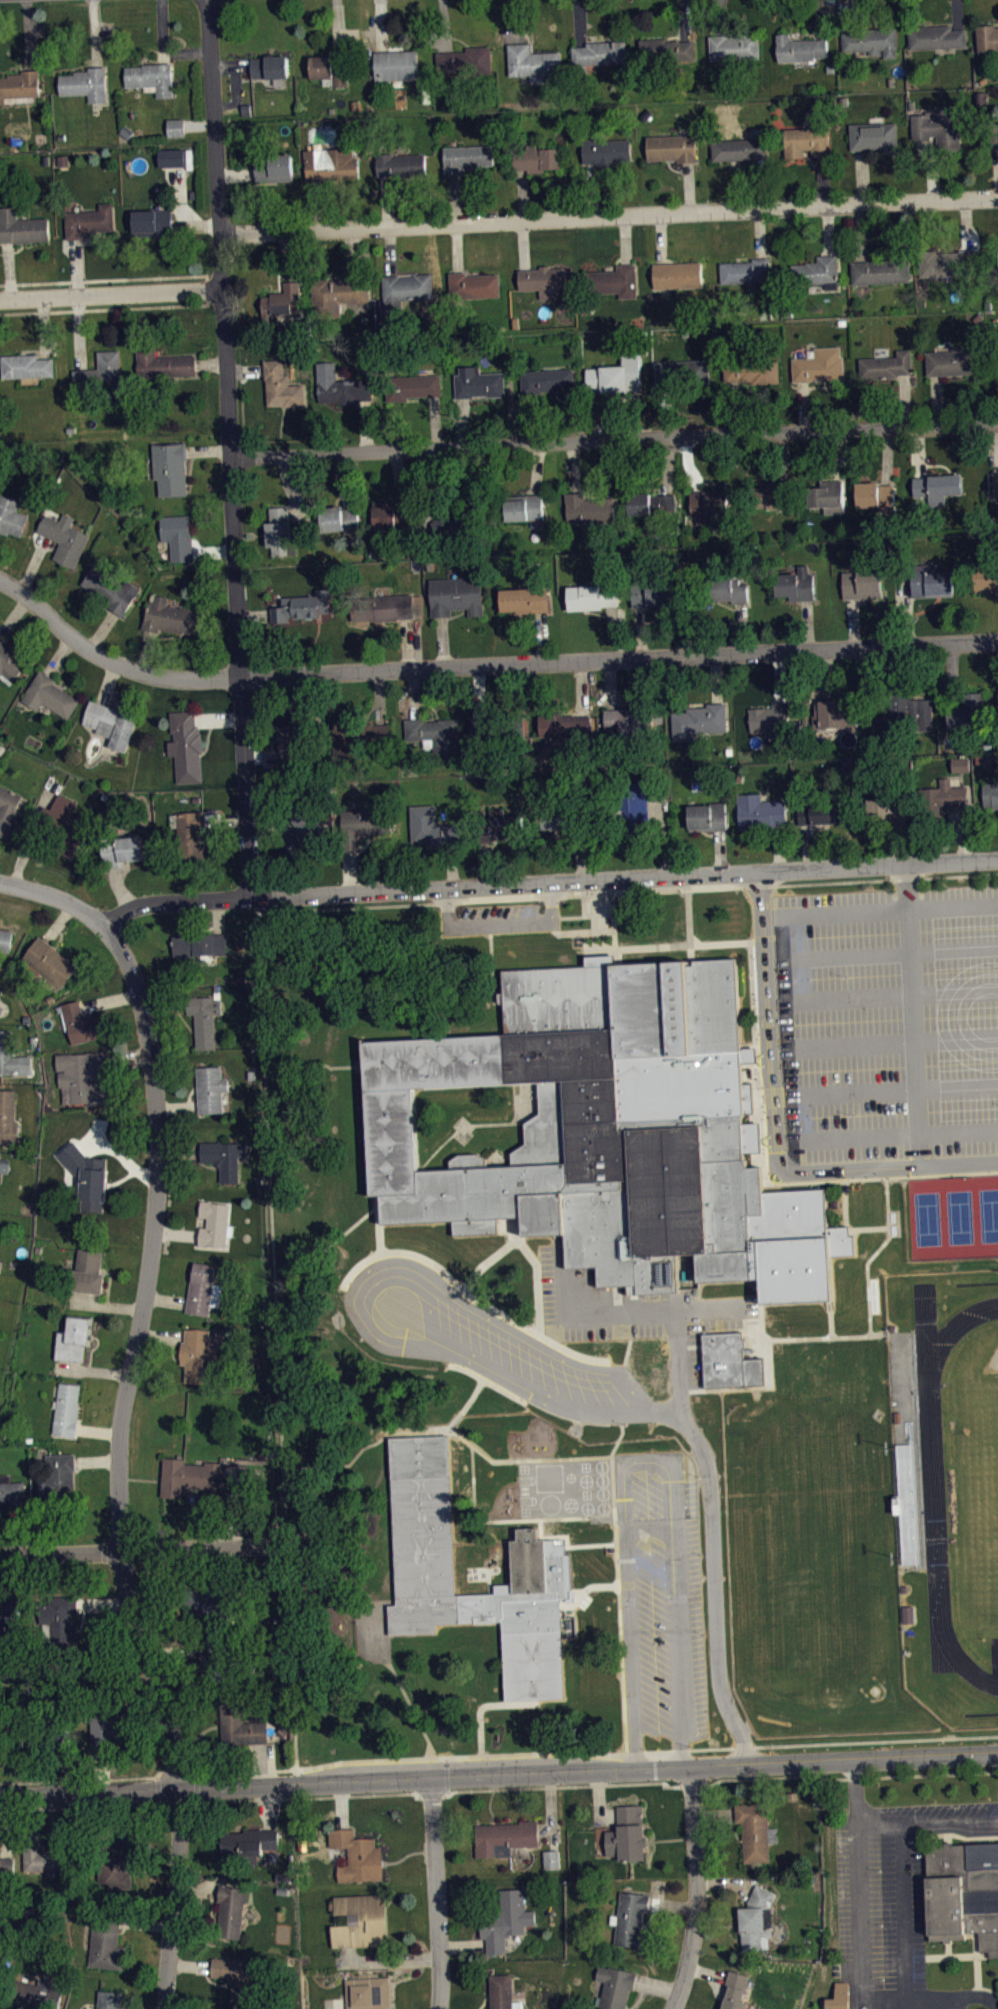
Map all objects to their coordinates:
building: (935, 37)
building: (987, 38)
building: (871, 41)
building: (734, 47)
building: (800, 48)
building: (665, 49)
building: (599, 53)
building: (465, 61)
building: (532, 62)
building: (396, 64)
building: (269, 66)
building: (330, 69)
building: (151, 78)
building: (85, 84)
building: (19, 85)
building: (176, 127)
building: (938, 129)
building: (993, 132)
building: (874, 137)
building: (806, 141)
building: (672, 147)
building: (738, 149)
building: (605, 151)
building: (534, 156)
building: (466, 158)
building: (173, 163)
building: (332, 164)
building: (400, 165)
building: (273, 167)
road: (607, 214)
building: (90, 223)
building: (153, 223)
building: (21, 228)
building: (948, 263)
building: (881, 270)
building: (746, 271)
building: (818, 271)
building: (677, 274)
road: (105, 279)
building: (543, 280)
building: (614, 281)
building: (473, 285)
building: (405, 289)
road: (108, 291)
building: (336, 295)
building: (280, 300)
road: (105, 309)
building: (951, 361)
building: (162, 363)
building: (818, 365)
building: (886, 365)
building: (26, 366)
building: (752, 371)
building: (681, 374)
building: (100, 375)
building: (616, 375)
building: (545, 380)
building: (478, 383)
building: (281, 386)
building: (340, 386)
building: (411, 387)
road: (613, 439)
road: (228, 447)
building: (170, 468)
building: (995, 483)
building: (937, 488)
building: (828, 496)
building: (875, 496)
building: (769, 497)
building: (651, 504)
building: (709, 504)
building: (524, 507)
building: (589, 507)
building: (391, 513)
building: (11, 516)
building: (340, 519)
building: (454, 521)
building: (279, 530)
building: (178, 536)
building: (64, 539)
building: (984, 578)
building: (932, 579)
building: (795, 584)
building: (862, 584)
building: (111, 589)
building: (727, 589)
building: (656, 592)
building: (456, 595)
building: (595, 596)
building: (523, 600)
building: (301, 606)
building: (381, 606)
building: (173, 617)
building: (10, 661)
road: (483, 666)
building: (50, 695)
building: (968, 712)
building: (833, 713)
building: (906, 714)
building: (771, 717)
building: (632, 722)
building: (698, 722)
building: (111, 723)
building: (565, 725)
building: (493, 730)
building: (357, 735)
building: (437, 736)
building: (186, 746)
building: (295, 747)
building: (960, 764)
building: (962, 770)
building: (990, 794)
building: (942, 798)
building: (632, 807)
building: (8, 809)
building: (886, 809)
building: (760, 811)
building: (817, 811)
building: (563, 815)
building: (707, 816)
building: (364, 823)
building: (60, 826)
building: (303, 826)
building: (431, 827)
building: (503, 827)
building: (189, 832)
building: (125, 850)
road: (548, 881)
road: (627, 893)
road: (55, 895)
road: (265, 903)
road: (952, 904)
parking lot: (499, 918)
road: (499, 922)
road: (593, 922)
road: (688, 925)
road: (489, 927)
building: (6, 939)
building: (199, 944)
road: (639, 947)
road: (889, 952)
building: (50, 962)
road: (492, 967)
road: (753, 989)
road: (891, 994)
road: (912, 1014)
building: (204, 1019)
parking lot: (886, 1022)
building: (80, 1023)
road: (785, 1028)
road: (891, 1040)
building: (12, 1056)
road: (314, 1064)
building: (82, 1074)
building: (211, 1088)
road: (893, 1090)
building: (8, 1117)
road: (773, 1130)
road: (958, 1131)
building: (611, 1132)
building: (0, 1156)
building: (225, 1157)
building: (4, 1165)
building: (86, 1176)
road: (835, 1179)
park: (989, 1214)
park: (960, 1216)
park: (927, 1218)
building: (215, 1223)
road: (325, 1250)
road: (373, 1256)
building: (0, 1266)
building: (1, 1272)
building: (89, 1272)
building: (201, 1289)
road: (463, 1289)
road: (539, 1327)
building: (894, 1327)
building: (75, 1337)
road: (276, 1339)
road: (572, 1352)
building: (197, 1355)
building: (729, 1361)
road: (487, 1381)
road: (466, 1404)
building: (67, 1409)
building: (897, 1416)
road: (557, 1458)
road: (646, 1464)
road: (115, 1466)
building: (58, 1477)
building: (190, 1477)
track: (941, 1478)
park: (980, 1490)
building: (12, 1492)
road: (613, 1500)
road: (474, 1511)
road: (275, 1542)
road: (133, 1548)
road: (712, 1548)
building: (424, 1573)
road: (568, 1575)
building: (905, 1589)
parking lot: (657, 1595)
building: (208, 1602)
building: (9, 1612)
building: (908, 1613)
building: (62, 1616)
road: (620, 1648)
building: (222, 1661)
road: (508, 1702)
building: (240, 1726)
building: (105, 1730)
building: (49, 1735)
building: (1, 1741)
road: (876, 1741)
road: (744, 1746)
road: (538, 1753)
road: (387, 1759)
road: (245, 1770)
road: (174, 1772)
road: (445, 1774)
road: (499, 1774)
road: (155, 1777)
road: (839, 1777)
road: (77, 1778)
road: (665, 1786)
road: (195, 1787)
road: (550, 1787)
road: (156, 1792)
road: (431, 1793)
road: (853, 1794)
road: (371, 1795)
road: (260, 1799)
road: (599, 1801)
road: (176, 1803)
road: (106, 1806)
road: (28, 1809)
road: (551, 1811)
road: (948, 1822)
road: (854, 1827)
road: (545, 1829)
building: (755, 1833)
building: (627, 1834)
building: (505, 1837)
building: (249, 1843)
building: (49, 1856)
building: (356, 1857)
building: (551, 1858)
building: (114, 1862)
building: (6, 1866)
road: (725, 1882)
road: (696, 1889)
building: (963, 1891)
road: (434, 1893)
road: (672, 1905)
parking lot: (892, 1907)
building: (231, 1910)
building: (631, 1919)
building: (757, 1919)
building: (361, 1920)
building: (507, 1920)
building: (106, 1941)
road: (706, 1970)
building: (239, 1975)
road: (655, 1986)
building: (614, 1987)
building: (735, 1990)
building: (504, 1991)
building: (367, 1993)
building: (38, 1994)
building: (839, 1997)
road: (951, 1997)
building: (109, 1999)
road: (902, 2005)

